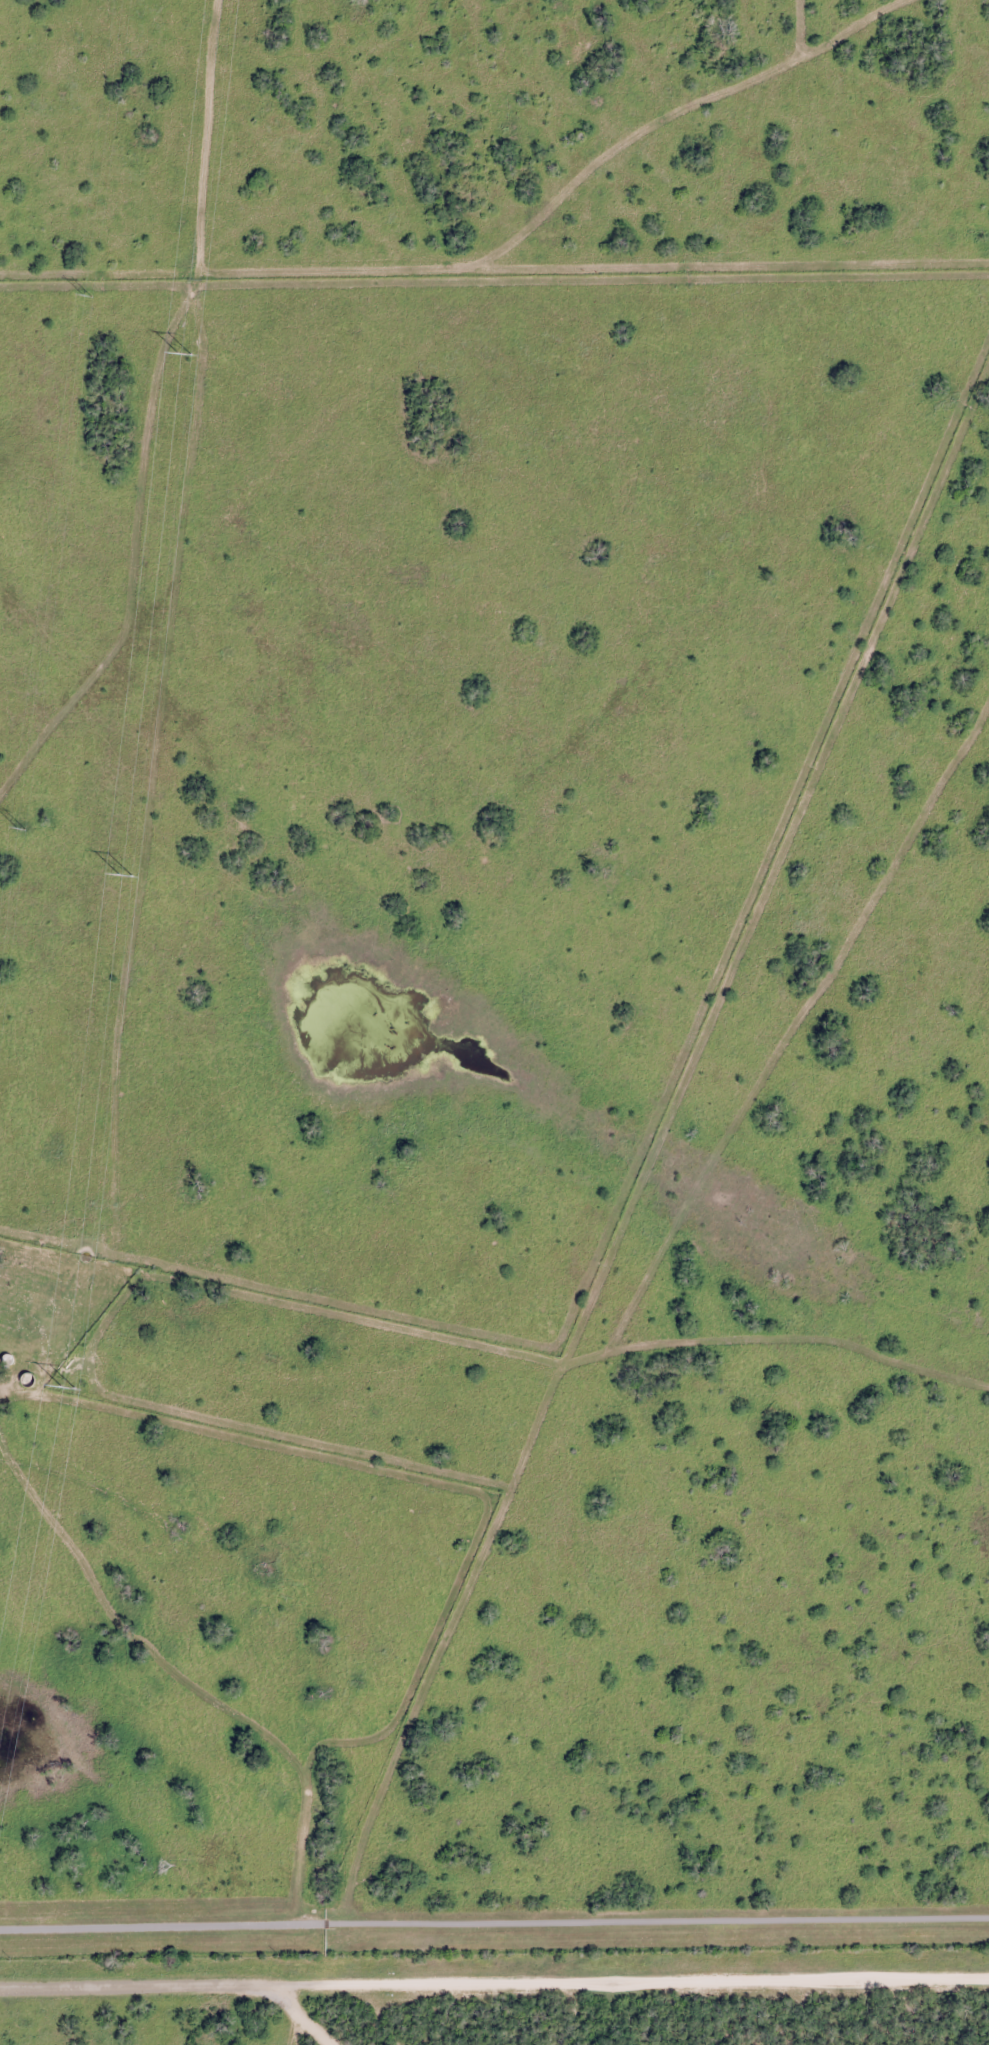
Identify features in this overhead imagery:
power tower: (87, 295)
power tower: (181, 355)
power tower: (20, 829)
power tower: (122, 880)
power tower: (66, 1389)
road: (494, 1927)
road: (494, 1982)

